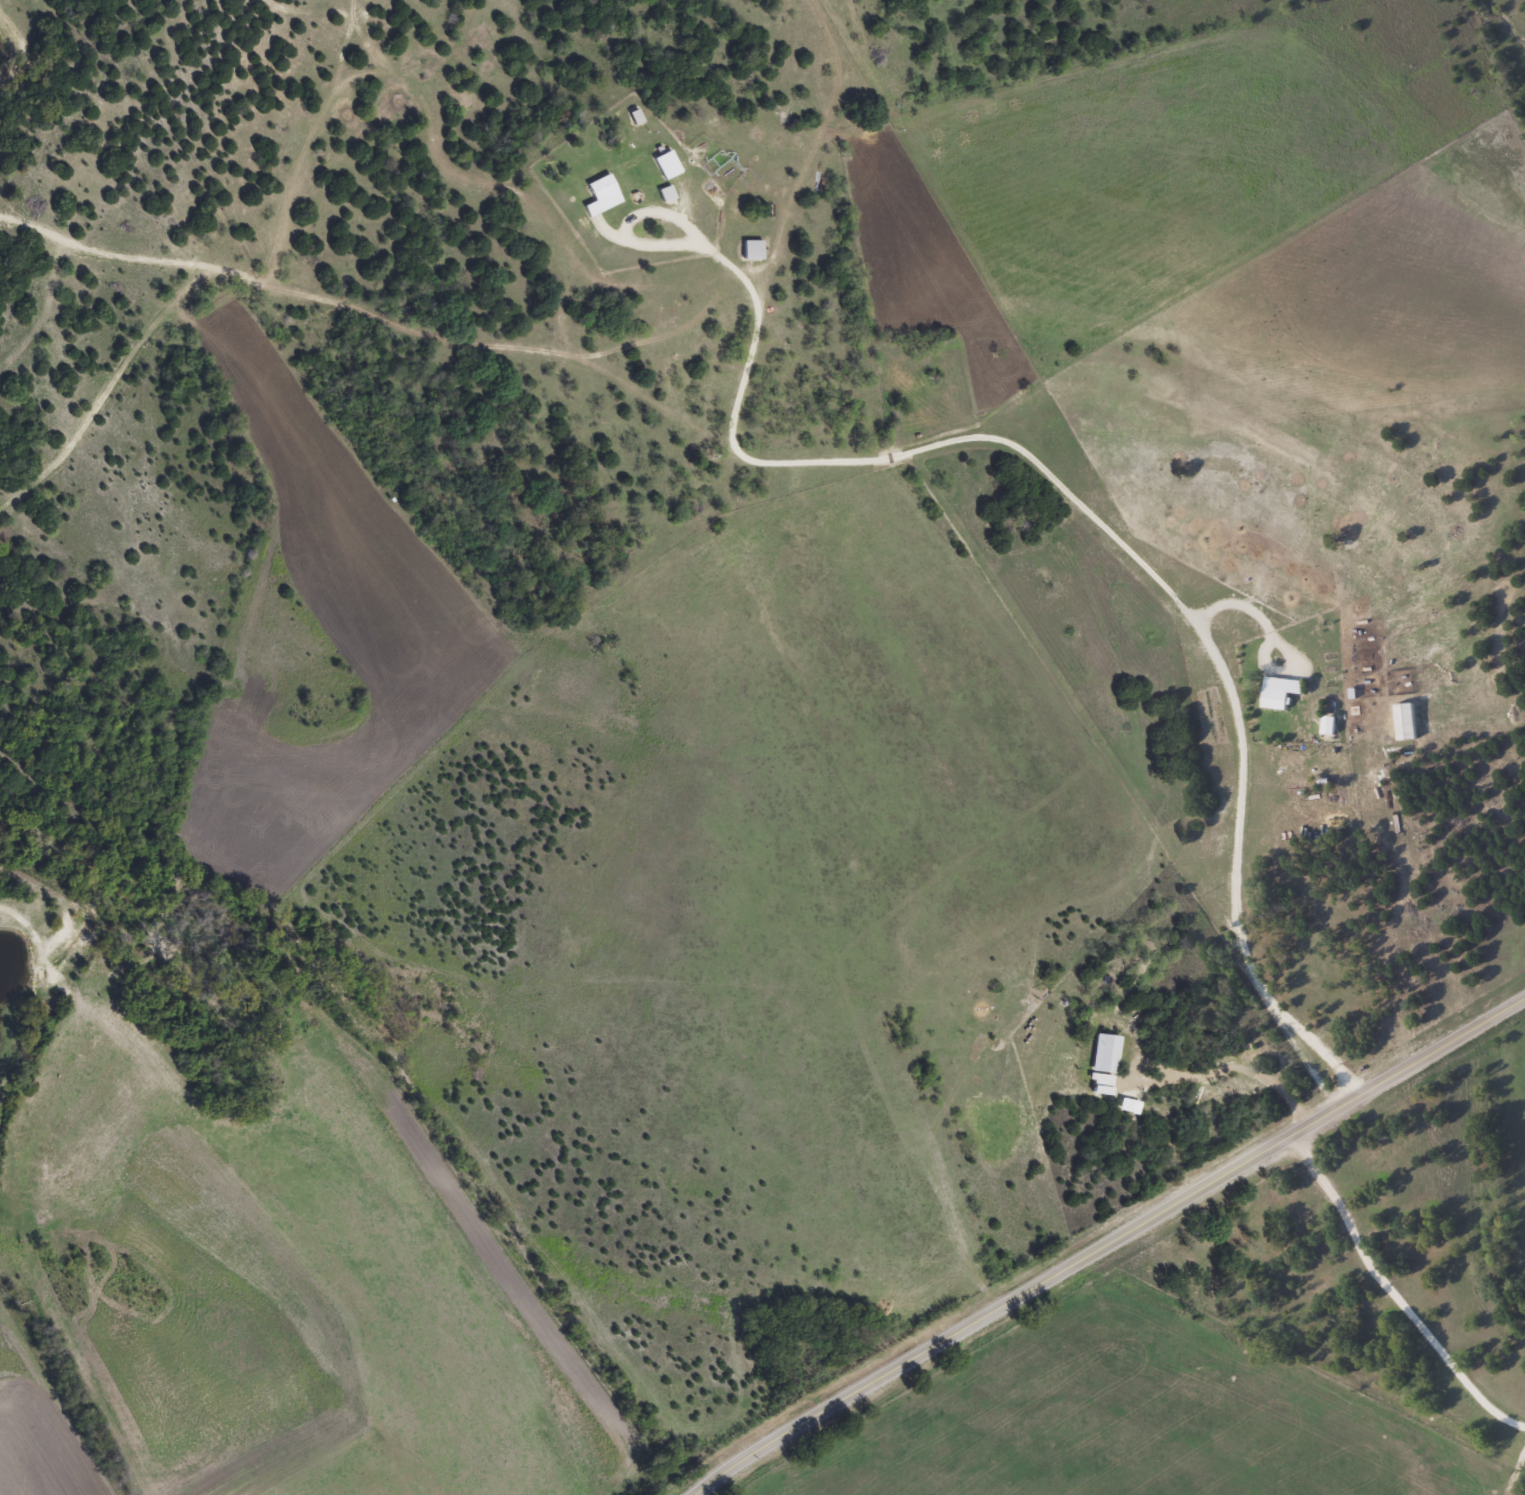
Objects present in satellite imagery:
building: (669, 163)
building: (604, 194)
building: (755, 248)
building: (1275, 689)
building: (1323, 722)
road: (1112, 1244)
road: (1384, 1305)

